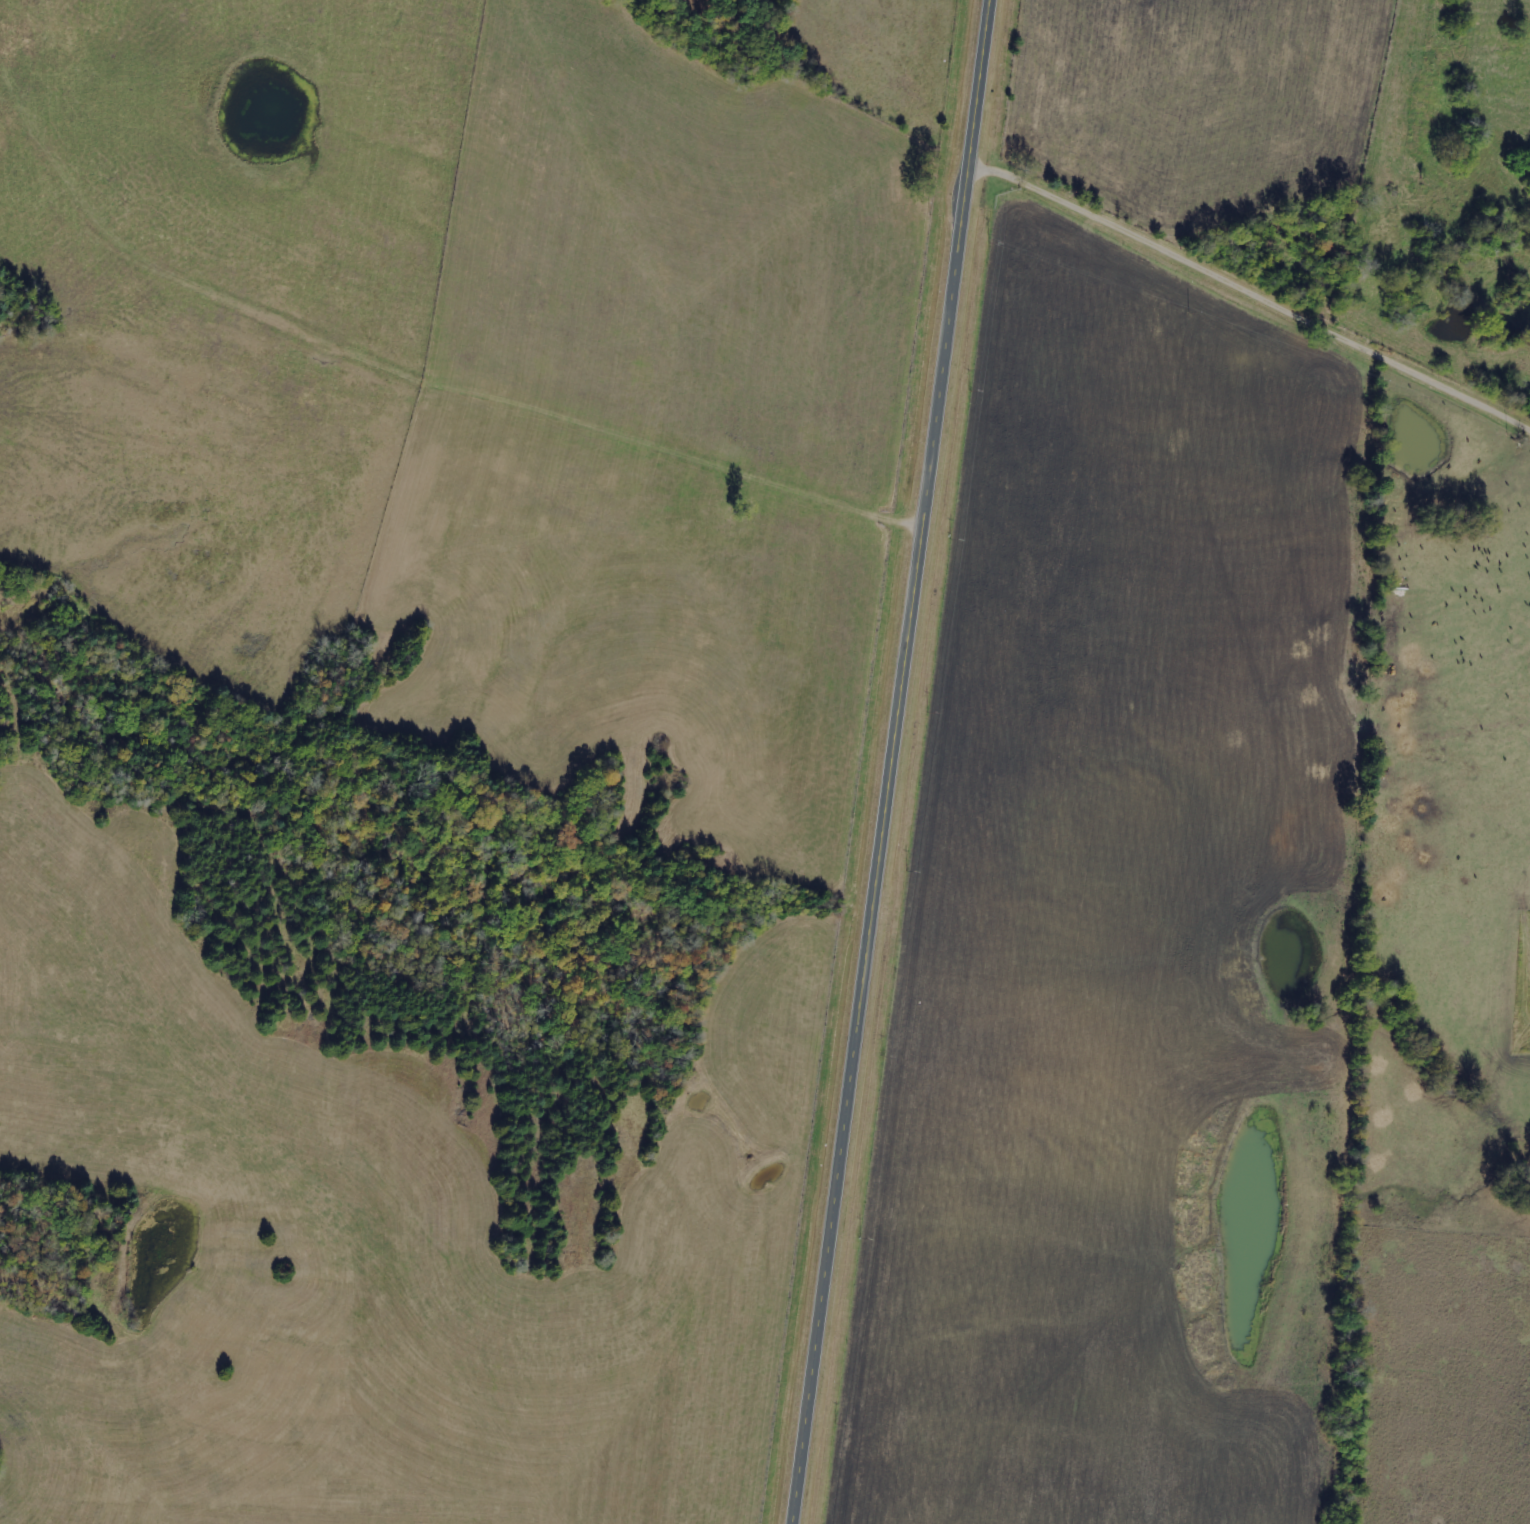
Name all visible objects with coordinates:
road: (1250, 296)
road: (892, 761)

